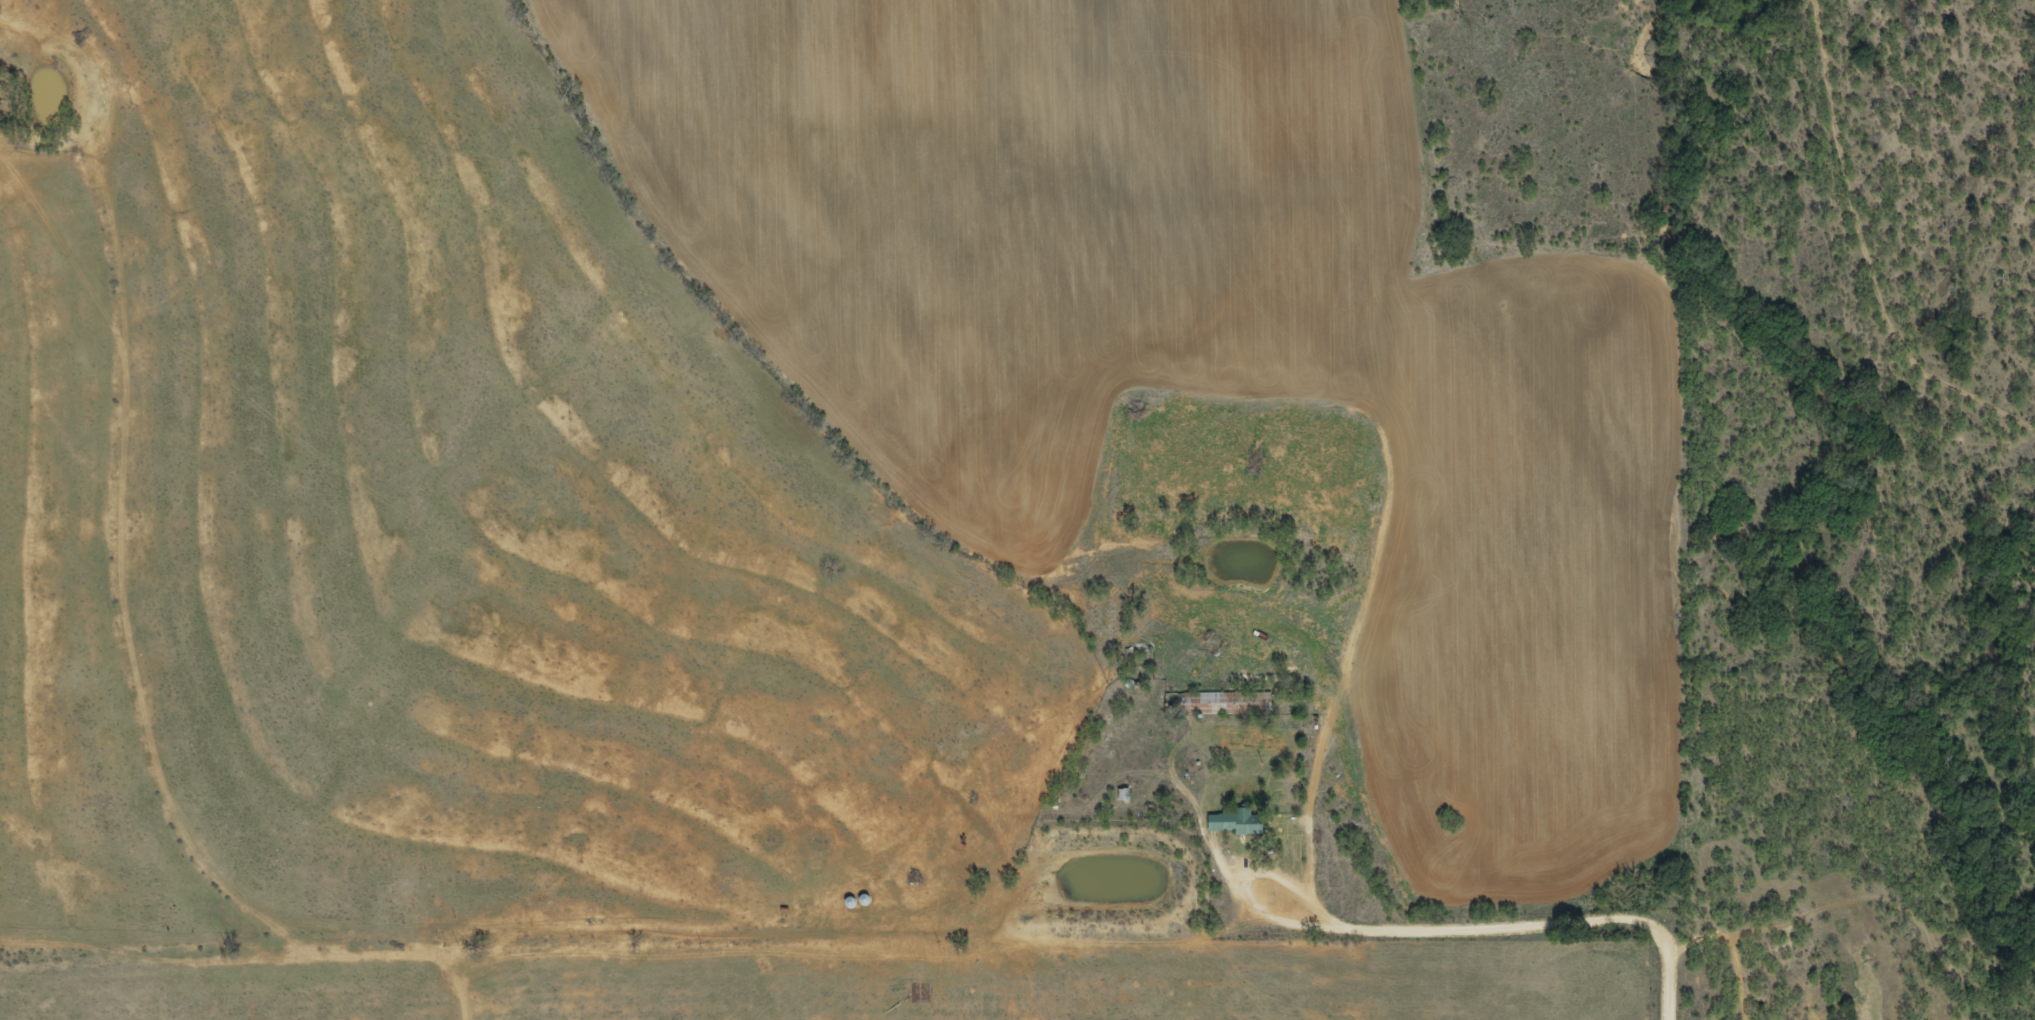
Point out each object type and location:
building: (1236, 821)
road: (1401, 954)
road: (1655, 1001)

